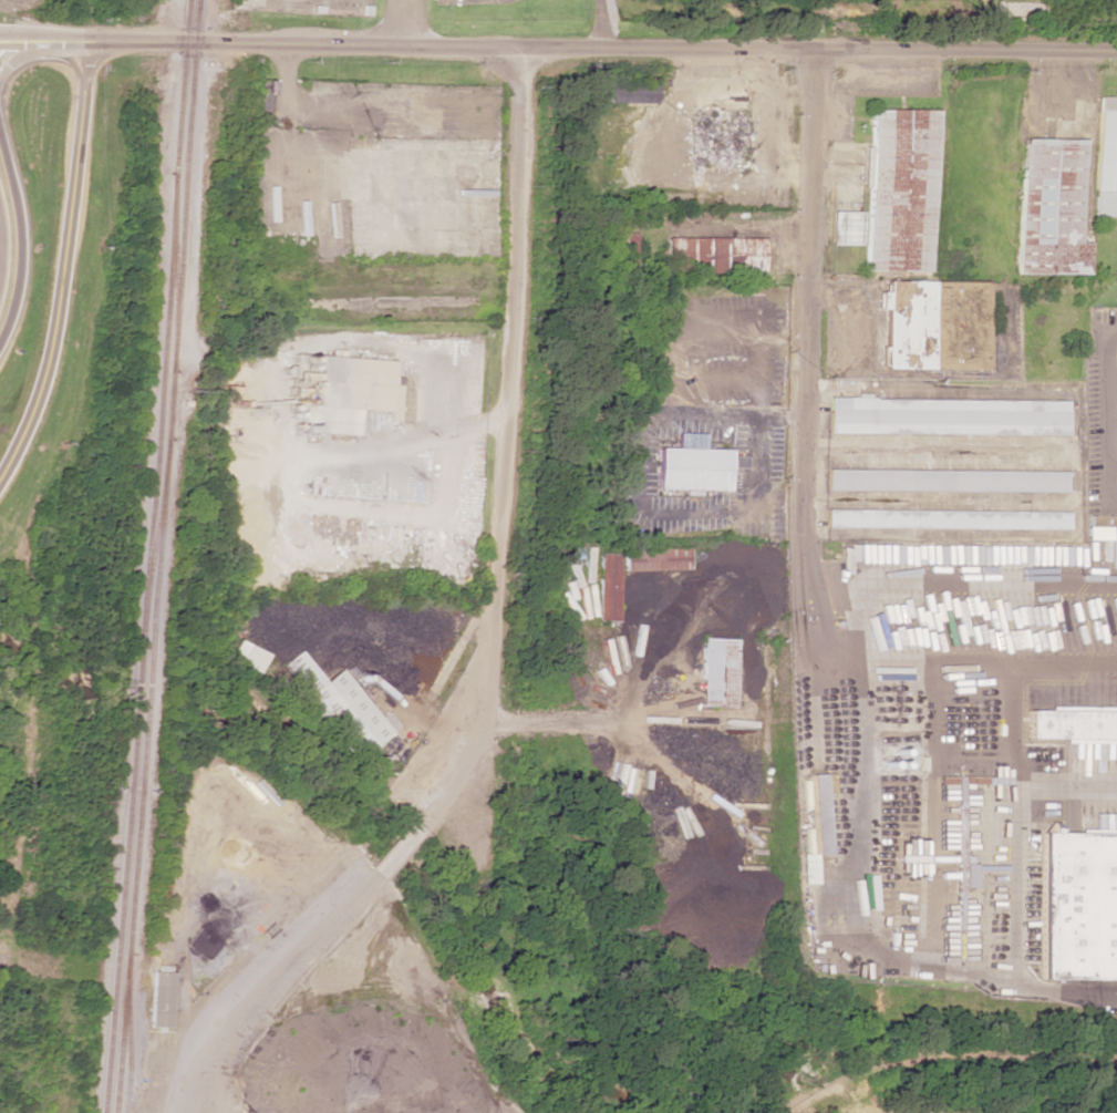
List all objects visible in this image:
road: (7, 39)
road: (33, 42)
road: (7, 43)
road: (585, 47)
road: (23, 60)
railway: (182, 85)
building: (629, 93)
building: (1106, 157)
railway: (185, 185)
building: (898, 189)
building: (1053, 208)
building: (844, 226)
road: (22, 239)
building: (618, 248)
building: (711, 255)
road: (65, 260)
road: (1, 264)
railway: (174, 271)
road: (805, 277)
building: (938, 324)
road: (507, 351)
road: (1108, 392)
building: (348, 393)
railway: (168, 404)
railway: (158, 406)
building: (949, 416)
road: (1113, 456)
building: (691, 465)
building: (948, 481)
road: (1107, 487)
building: (948, 518)
building: (1097, 533)
railway: (154, 539)
building: (604, 587)
building: (245, 656)
building: (715, 672)
building: (337, 707)
building: (1069, 724)
railway: (142, 775)
building: (811, 814)
railway: (124, 877)
road: (371, 878)
building: (1076, 906)
building: (159, 999)
railway: (128, 1033)

